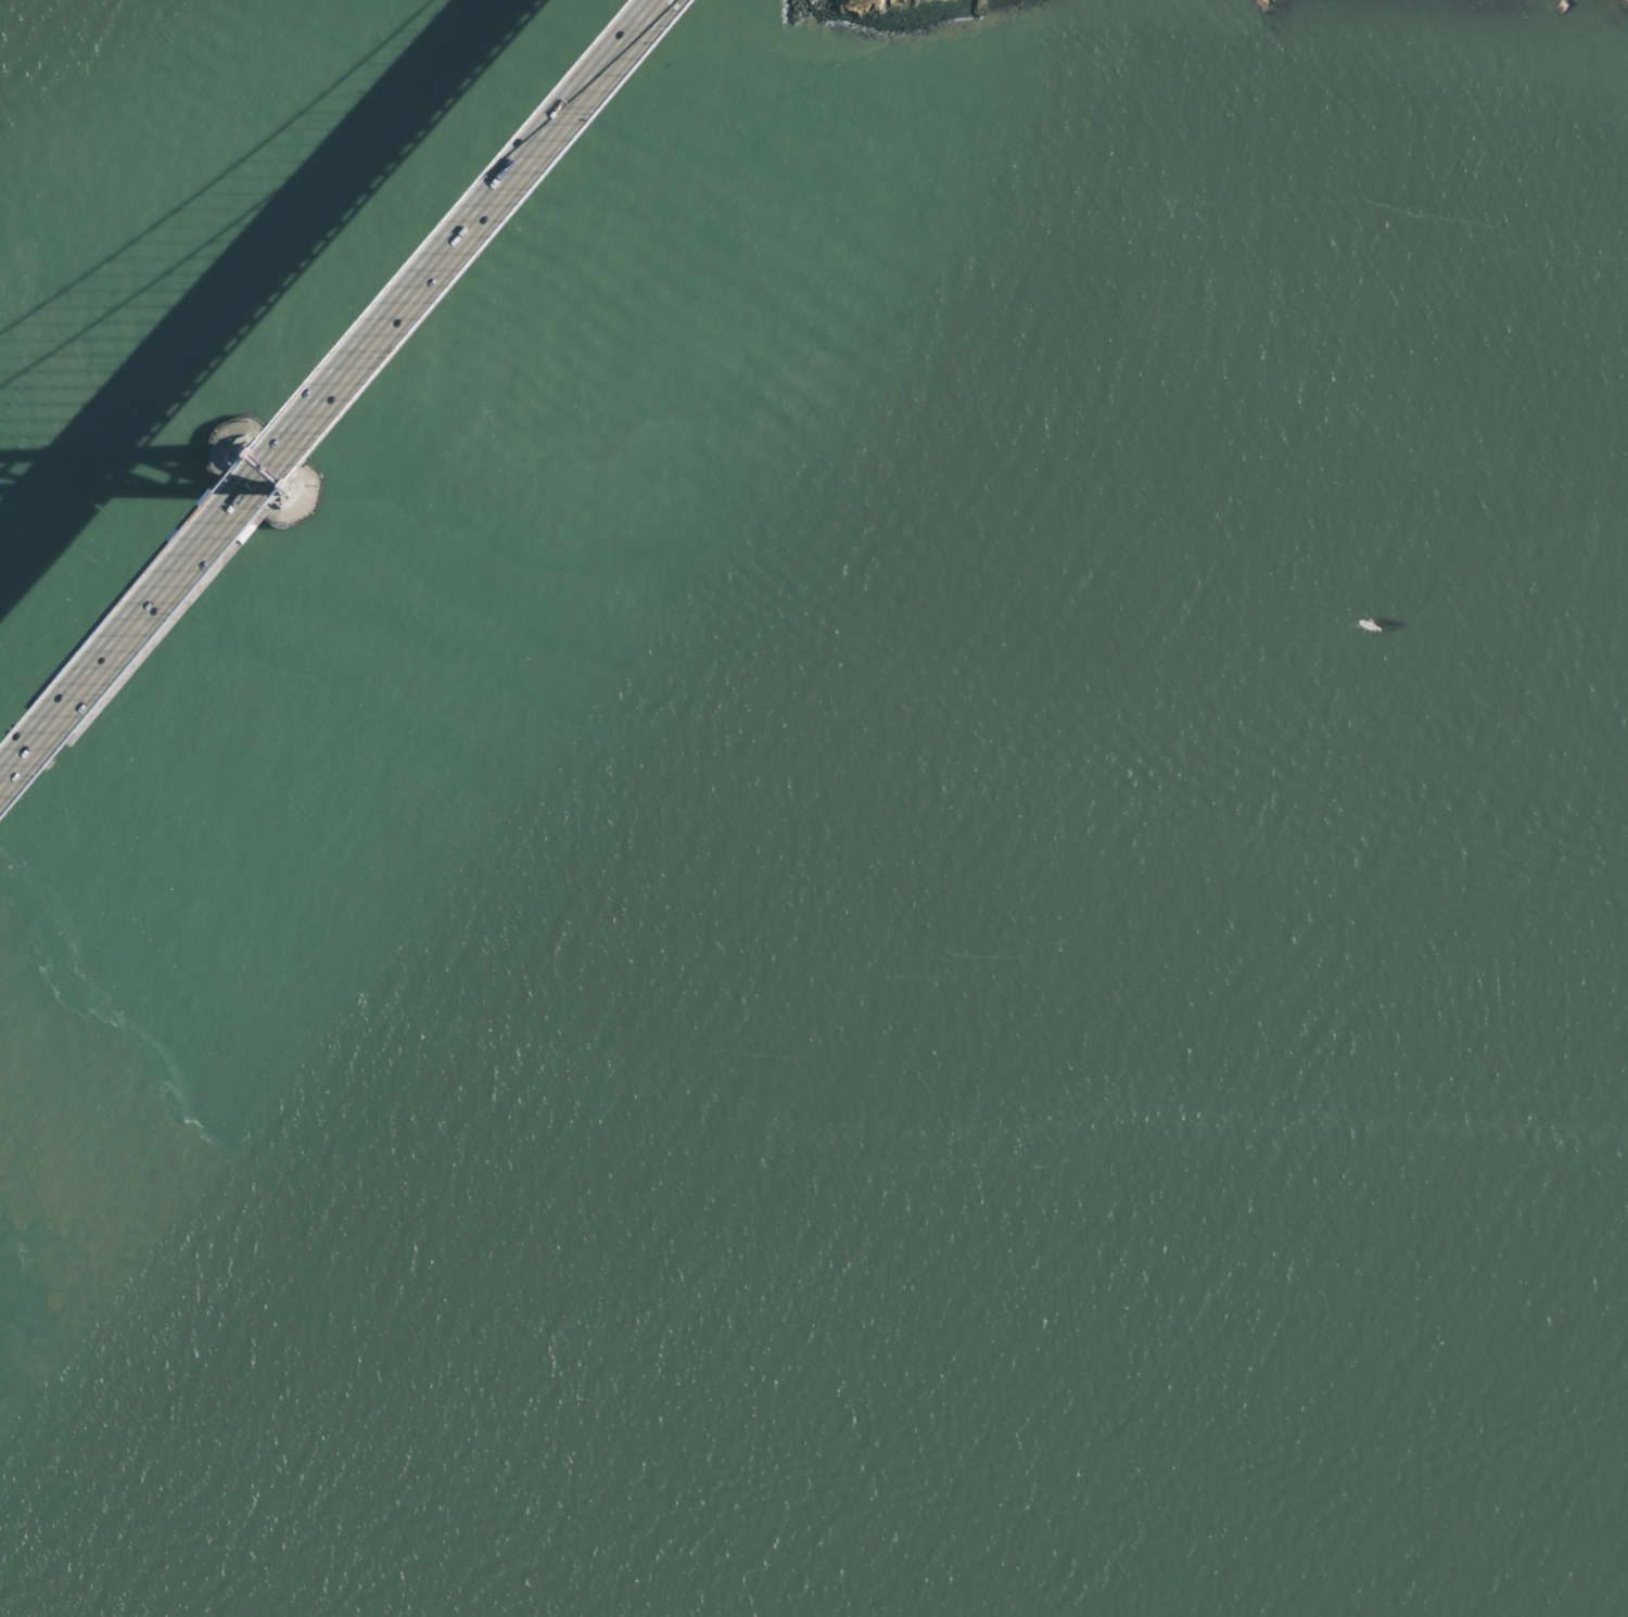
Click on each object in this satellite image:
road: (323, 382)
road: (336, 398)
building: (257, 470)
pier: (258, 470)

